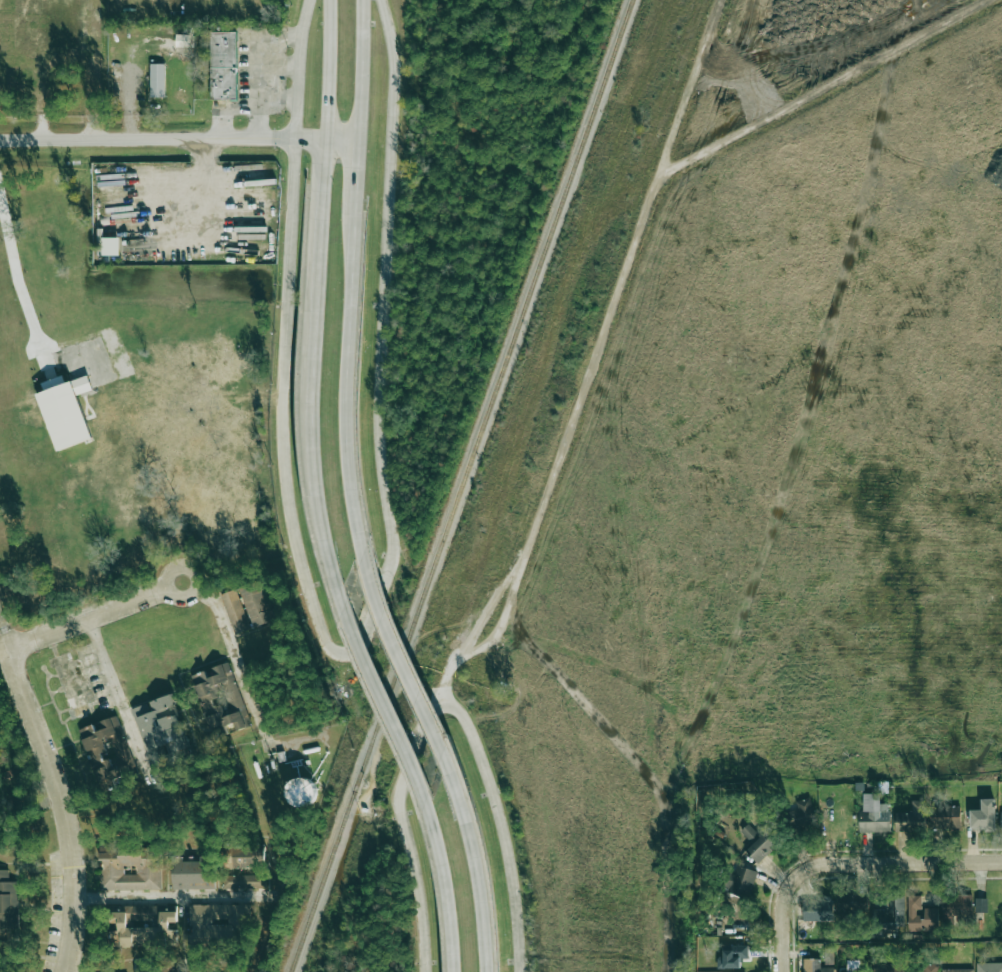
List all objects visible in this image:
building: (5, 32)
road: (300, 50)
building: (223, 65)
road: (279, 65)
road: (258, 67)
road: (328, 69)
road: (360, 69)
road: (31, 71)
building: (157, 80)
road: (687, 88)
road: (278, 100)
road: (225, 109)
road: (296, 119)
road: (311, 138)
road: (342, 138)
road: (148, 139)
road: (357, 174)
building: (111, 246)
road: (17, 276)
road: (621, 276)
road: (306, 374)
road: (347, 382)
building: (65, 410)
railway: (463, 486)
road: (186, 586)
road: (375, 599)
building: (257, 603)
building: (235, 612)
road: (499, 623)
road: (398, 653)
building: (220, 699)
road: (382, 704)
road: (443, 705)
road: (128, 706)
building: (162, 732)
building: (107, 752)
power substation: (289, 785)
building: (301, 791)
road: (59, 792)
building: (803, 814)
building: (874, 814)
building: (984, 816)
building: (945, 817)
building: (911, 818)
building: (1001, 819)
building: (759, 842)
building: (243, 855)
road: (476, 858)
road: (896, 864)
building: (150, 866)
building: (192, 872)
building: (244, 881)
building: (741, 881)
road: (443, 885)
road: (173, 897)
building: (8, 905)
building: (853, 905)
building: (981, 905)
building: (957, 908)
building: (818, 909)
building: (890, 915)
building: (921, 916)
building: (216, 922)
road: (781, 923)
building: (732, 956)
building: (815, 966)
building: (888, 967)
building: (989, 967)
building: (922, 969)
building: (957, 970)
building: (158, 971)
building: (857, 971)

